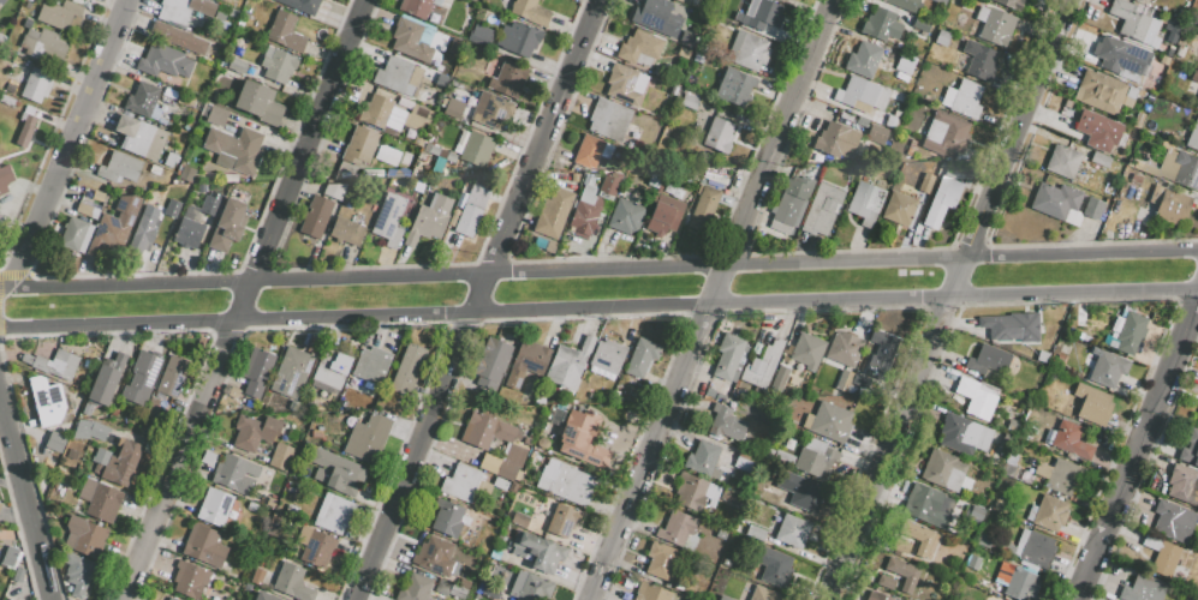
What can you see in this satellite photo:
building: (1, 1)
building: (226, 1)
building: (940, 1)
building: (1137, 1)
building: (1012, 2)
building: (902, 4)
building: (300, 5)
building: (418, 5)
road: (579, 6)
road: (812, 6)
building: (1194, 6)
road: (607, 8)
building: (184, 10)
building: (529, 12)
building: (59, 13)
building: (232, 13)
building: (651, 13)
building: (762, 14)
building: (1128, 20)
building: (881, 24)
building: (994, 24)
building: (920, 25)
building: (285, 32)
road: (830, 34)
building: (479, 35)
building: (179, 37)
building: (519, 37)
building: (941, 37)
building: (410, 41)
building: (44, 46)
building: (639, 47)
building: (747, 50)
building: (1180, 52)
building: (685, 54)
building: (1120, 55)
building: (863, 59)
building: (979, 60)
building: (163, 61)
building: (703, 62)
building: (904, 62)
building: (237, 65)
building: (278, 65)
road: (321, 65)
building: (205, 68)
road: (347, 72)
building: (397, 74)
building: (1193, 76)
building: (508, 79)
building: (36, 84)
building: (621, 84)
building: (737, 85)
building: (853, 91)
building: (1099, 92)
building: (1131, 92)
building: (962, 98)
building: (142, 100)
building: (186, 100)
building: (1126, 101)
building: (689, 102)
building: (258, 103)
road: (1030, 103)
building: (1197, 106)
building: (375, 110)
building: (481, 110)
road: (788, 112)
building: (216, 115)
road: (318, 118)
building: (416, 118)
building: (609, 119)
building: (1138, 120)
road: (1033, 122)
road: (996, 128)
building: (1097, 130)
building: (25, 131)
building: (875, 133)
building: (946, 133)
building: (717, 136)
building: (1192, 136)
building: (139, 137)
building: (835, 140)
road: (70, 145)
building: (359, 145)
building: (237, 149)
building: (477, 149)
building: (592, 152)
building: (1062, 160)
building: (1099, 160)
building: (121, 168)
building: (1186, 170)
building: (185, 173)
building: (5, 179)
building: (1134, 179)
building: (925, 182)
building: (608, 185)
building: (667, 187)
building: (334, 191)
building: (943, 197)
building: (795, 199)
building: (1054, 200)
building: (865, 203)
building: (1172, 206)
building: (172, 208)
building: (1093, 208)
building: (821, 209)
building: (898, 209)
building: (87, 210)
building: (703, 210)
building: (471, 211)
building: (553, 212)
building: (584, 212)
building: (662, 215)
building: (625, 216)
building: (316, 217)
building: (389, 220)
building: (429, 220)
building: (192, 223)
building: (228, 224)
building: (114, 226)
building: (347, 230)
building: (1140, 230)
building: (143, 233)
building: (76, 234)
road: (977, 234)
road: (738, 238)
road: (1173, 240)
building: (552, 250)
road: (262, 259)
road: (598, 271)
road: (720, 282)
road: (479, 300)
road: (245, 304)
road: (598, 310)
building: (1011, 325)
road: (1187, 329)
building: (1130, 331)
road: (699, 334)
road: (228, 344)
building: (844, 348)
building: (806, 352)
building: (880, 353)
building: (1042, 355)
building: (607, 356)
building: (728, 356)
building: (640, 358)
building: (988, 359)
building: (491, 362)
building: (526, 362)
building: (54, 364)
building: (568, 364)
building: (762, 364)
building: (1108, 368)
building: (328, 370)
building: (409, 370)
building: (256, 371)
building: (369, 371)
building: (292, 372)
building: (172, 376)
building: (142, 378)
building: (106, 379)
building: (781, 379)
building: (844, 379)
building: (859, 382)
building: (1020, 394)
building: (540, 398)
building: (975, 398)
building: (52, 404)
building: (490, 404)
building: (150, 406)
building: (1092, 406)
building: (87, 408)
building: (1021, 413)
building: (1197, 415)
building: (726, 424)
building: (832, 425)
building: (1011, 426)
road: (898, 430)
building: (90, 431)
building: (254, 431)
building: (962, 434)
building: (368, 438)
building: (583, 438)
building: (55, 440)
building: (1069, 440)
building: (481, 445)
building: (1191, 448)
building: (280, 456)
building: (702, 458)
building: (746, 462)
building: (121, 463)
building: (815, 467)
building: (944, 470)
building: (1009, 470)
building: (336, 472)
building: (234, 473)
building: (1061, 475)
road: (640, 476)
road: (1127, 476)
road: (172, 482)
building: (566, 482)
building: (464, 484)
building: (500, 484)
building: (1184, 485)
building: (693, 491)
building: (803, 494)
building: (56, 497)
building: (731, 497)
building: (773, 498)
road: (25, 499)
building: (100, 499)
building: (500, 502)
building: (0, 505)
building: (214, 506)
building: (925, 506)
building: (977, 512)
building: (1048, 512)
building: (333, 515)
building: (447, 517)
building: (519, 520)
building: (562, 521)
building: (1173, 521)
building: (675, 528)
building: (793, 534)
building: (757, 535)
building: (83, 536)
building: (920, 539)
building: (984, 540)
building: (965, 545)
building: (203, 546)
building: (315, 546)
building: (900, 546)
building: (1035, 548)
building: (538, 551)
building: (1161, 556)
building: (435, 557)
building: (7, 558)
building: (507, 559)
building: (660, 560)
building: (972, 562)
building: (779, 572)
building: (902, 572)
building: (78, 574)
building: (18, 575)
building: (189, 580)
building: (884, 581)
building: (1017, 582)
building: (292, 583)
building: (530, 587)
building: (415, 588)
building: (458, 589)
building: (1143, 589)
building: (489, 592)
building: (692, 592)
building: (650, 593)
building: (763, 594)
building: (263, 596)
building: (875, 596)
building: (723, 598)
building: (171, 599)
building: (627, 599)

